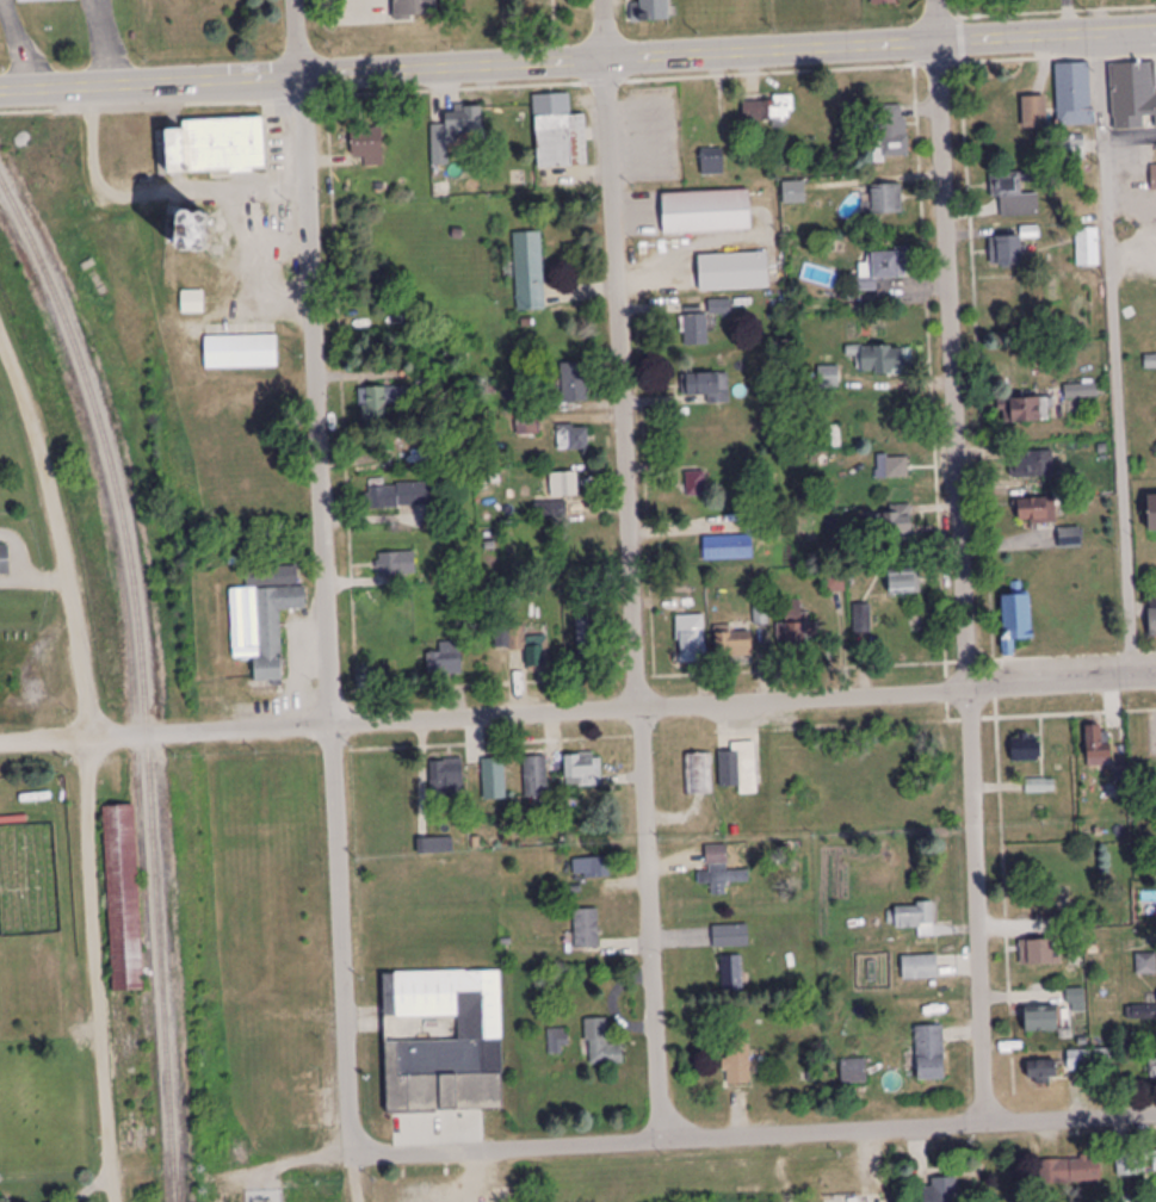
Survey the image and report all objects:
building: (884, 2)
building: (415, 10)
building: (651, 12)
road: (936, 23)
road: (604, 29)
road: (577, 58)
building: (1074, 95)
building: (1133, 97)
building: (768, 111)
building: (1034, 113)
building: (455, 131)
building: (894, 131)
building: (560, 135)
building: (367, 145)
building: (217, 147)
building: (1071, 147)
building: (712, 163)
building: (1154, 179)
building: (1014, 194)
building: (883, 202)
building: (706, 213)
building: (187, 233)
building: (1087, 248)
building: (1007, 252)
building: (886, 265)
building: (530, 272)
building: (734, 273)
building: (697, 330)
building: (241, 352)
building: (878, 359)
road: (954, 367)
building: (828, 378)
building: (575, 384)
building: (709, 388)
building: (1082, 392)
building: (381, 403)
building: (1026, 411)
building: (527, 426)
building: (573, 440)
building: (1032, 465)
building: (892, 467)
building: (696, 483)
building: (564, 487)
building: (401, 496)
building: (548, 512)
building: (1037, 512)
building: (1152, 515)
building: (900, 523)
building: (1070, 539)
building: (728, 549)
building: (5, 562)
building: (398, 565)
road: (324, 578)
building: (901, 583)
road: (633, 600)
building: (1152, 614)
building: (1016, 618)
building: (262, 626)
building: (795, 626)
building: (587, 637)
building: (692, 639)
building: (734, 646)
building: (526, 648)
building: (446, 661)
railway: (144, 676)
road: (622, 710)
road: (44, 739)
building: (1098, 748)
building: (1025, 750)
road: (88, 761)
building: (737, 770)
building: (582, 772)
building: (698, 775)
building: (537, 777)
building: (446, 779)
building: (494, 780)
building: (1040, 787)
road: (1001, 788)
building: (435, 847)
building: (716, 866)
building: (594, 868)
building: (124, 899)
road: (978, 906)
building: (916, 917)
building: (586, 929)
building: (730, 935)
building: (1039, 952)
building: (920, 967)
building: (732, 972)
building: (1076, 1000)
building: (1140, 1012)
building: (1041, 1018)
building: (446, 1042)
building: (601, 1045)
building: (931, 1053)
building: (737, 1060)
building: (1078, 1060)
building: (1152, 1071)
road: (710, 1139)
building: (1155, 1163)
building: (1127, 1165)
building: (1070, 1171)
building: (941, 1189)

